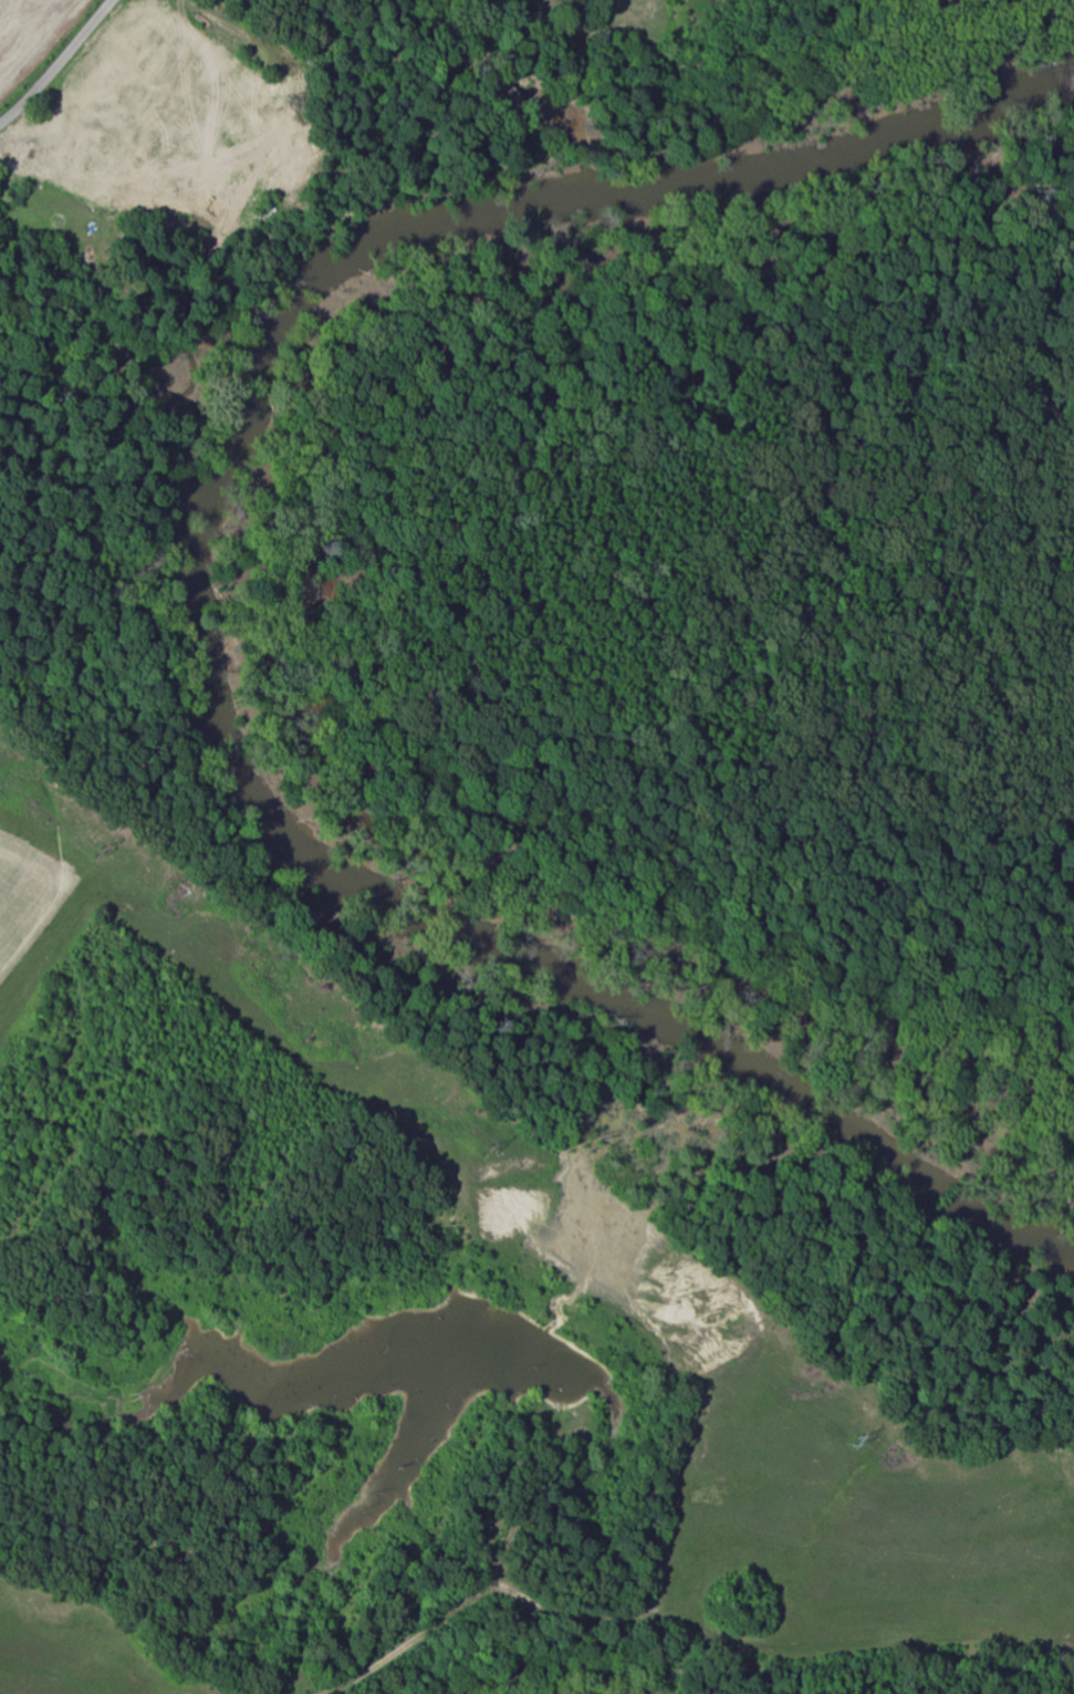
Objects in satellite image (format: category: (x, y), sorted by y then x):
road: (55, 63)
river: (204, 595)
river: (576, 1692)

